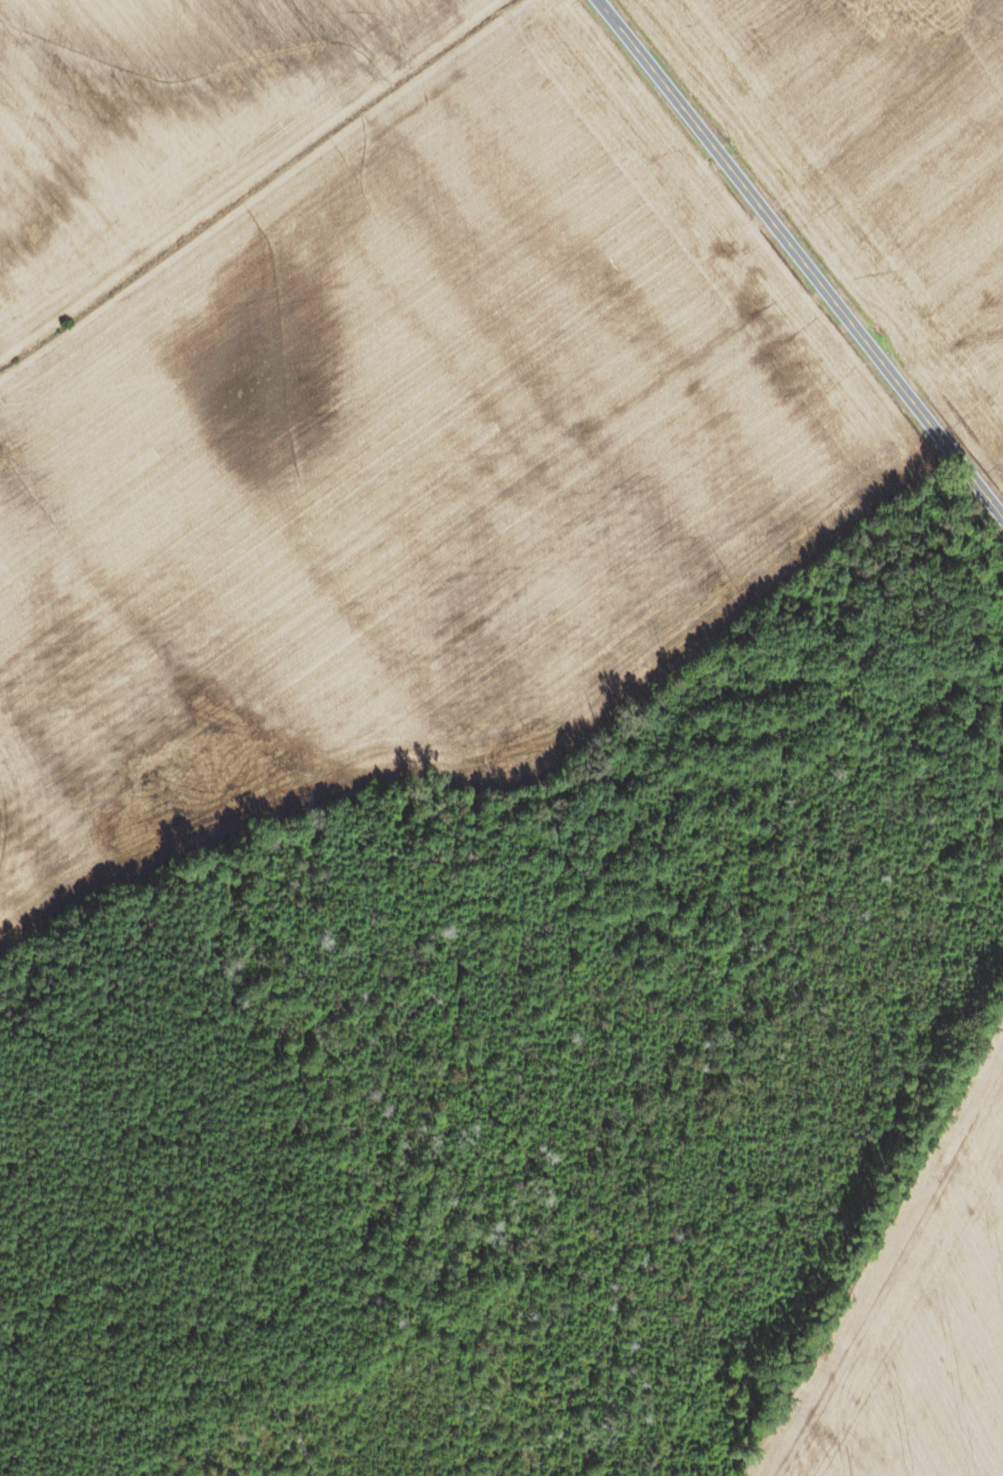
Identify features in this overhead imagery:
road: (801, 257)

